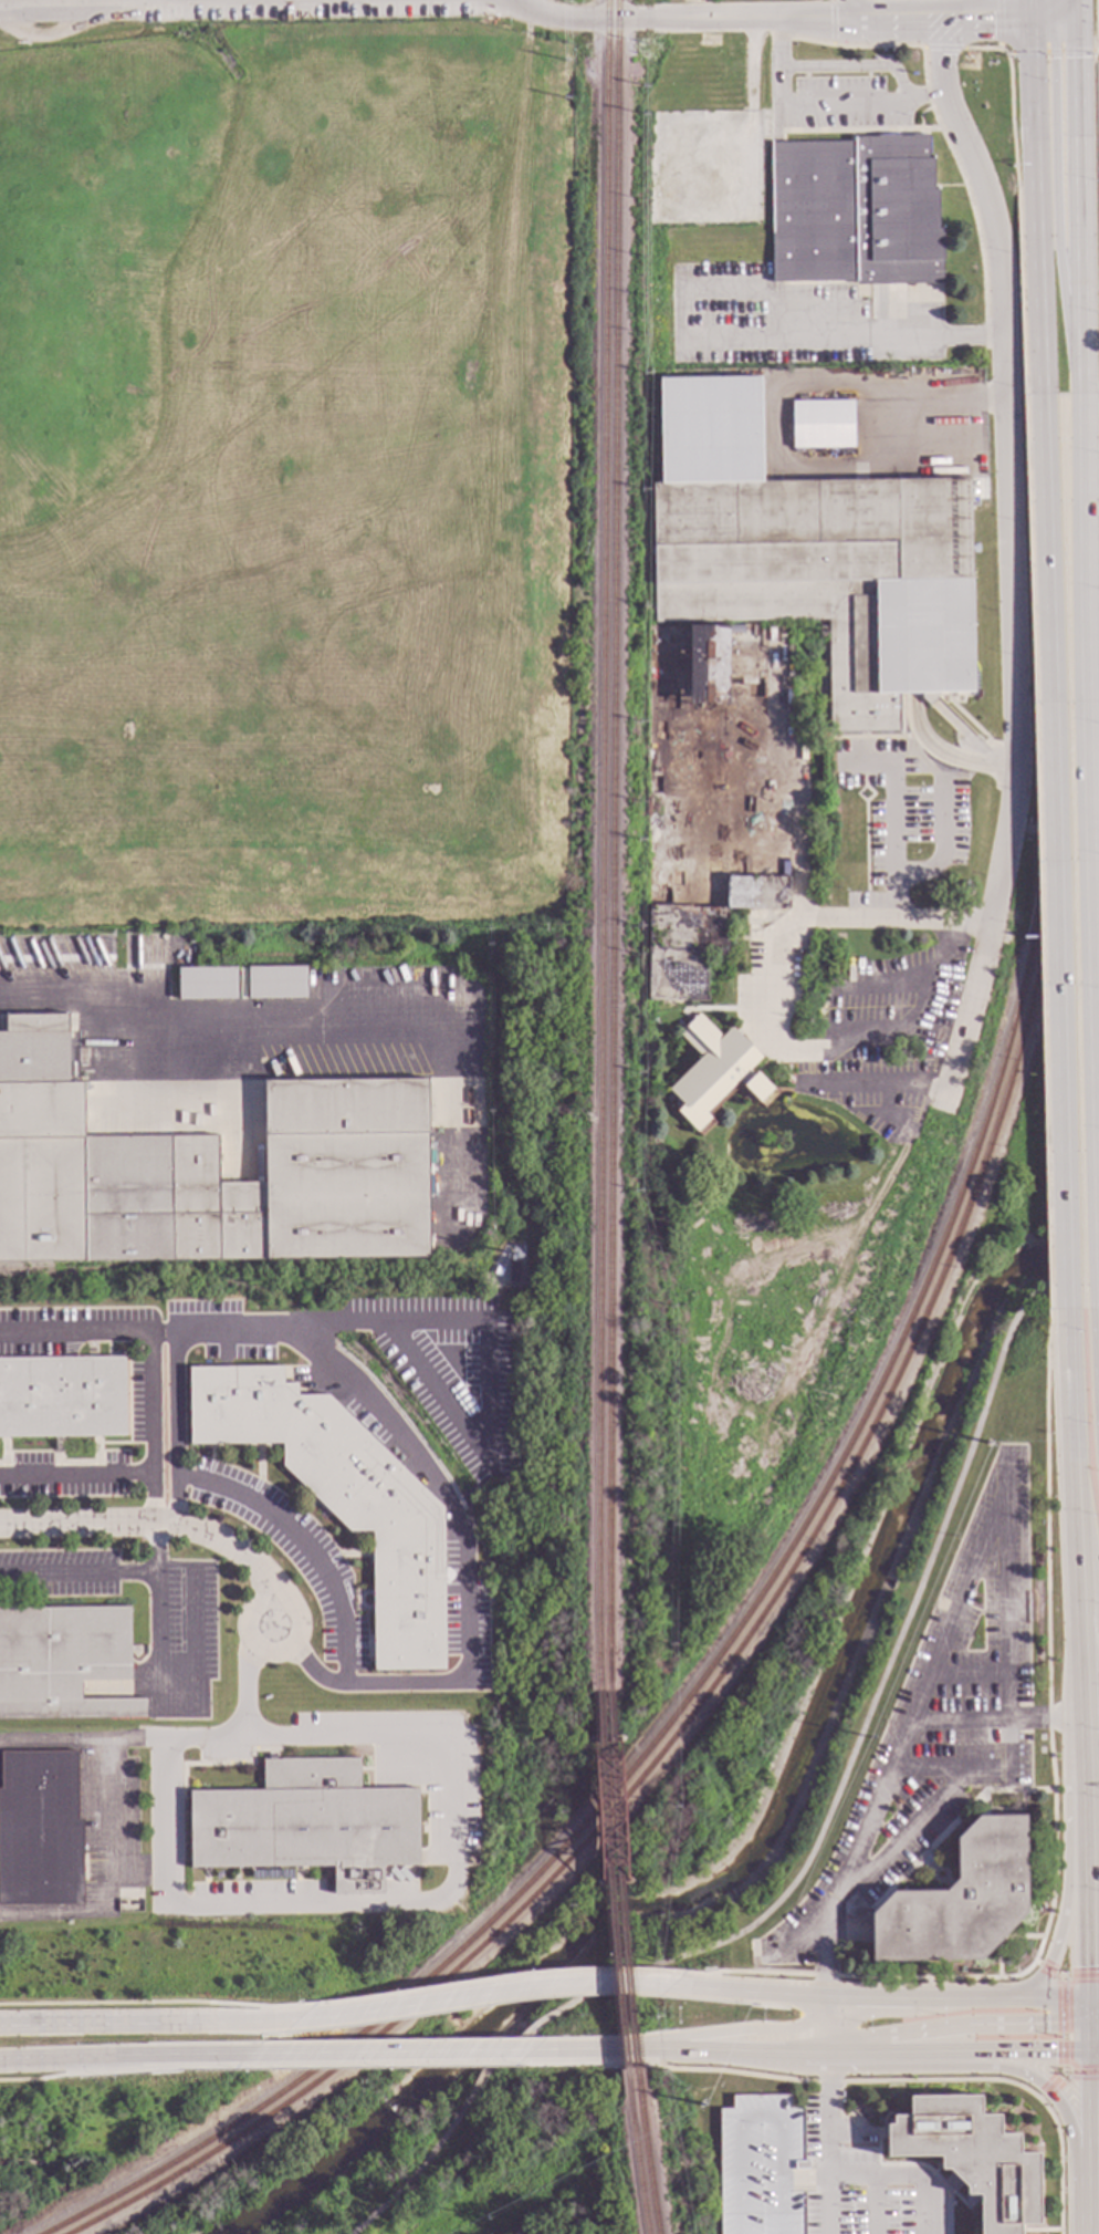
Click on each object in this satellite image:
road: (1077, 9)
road: (845, 10)
road: (1030, 10)
road: (1064, 11)
road: (751, 19)
road: (1055, 19)
traffic signals: (1078, 19)
road: (584, 20)
road: (939, 20)
traffic signals: (1032, 20)
road: (998, 24)
road: (1049, 52)
road: (940, 56)
road: (860, 69)
road: (933, 96)
road: (1009, 101)
road: (809, 106)
road: (1093, 196)
road: (1055, 197)
road: (1037, 206)
road: (1080, 206)
building: (855, 214)
road: (1021, 294)
road: (847, 341)
road: (899, 388)
building: (820, 426)
road: (1098, 454)
road: (1009, 595)
building: (899, 666)
road: (1091, 820)
road: (942, 825)
railway: (617, 845)
railway: (605, 846)
road: (1036, 852)
road: (1055, 852)
road: (799, 916)
building: (274, 984)
building: (205, 985)
road: (882, 987)
road: (907, 1020)
building: (713, 1072)
road: (873, 1094)
building: (206, 1173)
building: (512, 1274)
road: (488, 1359)
building: (61, 1399)
road: (149, 1428)
power tower: (985, 1443)
road: (412, 1459)
road: (75, 1478)
building: (338, 1497)
road: (248, 1503)
road: (178, 1504)
railway: (472, 1507)
road: (1074, 1514)
road: (163, 1523)
railway: (796, 1541)
road: (155, 1547)
road: (1087, 1550)
road: (77, 1573)
railway: (788, 1577)
park: (848, 1610)
road: (951, 1632)
road: (1046, 1635)
building: (63, 1662)
road: (1070, 1670)
road: (971, 1677)
road: (1008, 1700)
road: (1072, 1718)
road: (1037, 1719)
road: (962, 1722)
parking lot: (938, 1725)
road: (231, 1736)
power tower: (869, 1738)
road: (51, 1743)
road: (928, 1775)
building: (306, 1826)
road: (823, 1828)
building: (39, 1830)
road: (902, 1838)
road: (1081, 1858)
road: (1065, 1869)
road: (103, 1879)
railway: (626, 1880)
railway: (617, 1881)
building: (959, 1900)
road: (409, 1902)
park: (557, 1932)
road: (1047, 1967)
traffic signals: (1085, 1967)
road: (1080, 1976)
road: (866, 1977)
road: (491, 1980)
road: (756, 1993)
road: (480, 1995)
road: (1092, 1996)
road: (866, 1998)
road: (1047, 1998)
road: (957, 1999)
road: (146, 2002)
road: (1092, 2005)
road: (1086, 2010)
road: (1092, 2022)
traffic signals: (1046, 2024)
road: (1063, 2024)
road: (135, 2025)
road: (824, 2025)
road: (953, 2026)
road: (740, 2030)
road: (1086, 2037)
road: (1092, 2047)
road: (659, 2049)
road: (1092, 2050)
road: (430, 2051)
road: (763, 2051)
road: (1032, 2051)
traffic signals: (1054, 2051)
road: (901, 2053)
road: (123, 2055)
road: (824, 2060)
road: (763, 2062)
road: (428, 2066)
road: (987, 2069)
road: (121, 2070)
road: (1080, 2072)
road: (826, 2081)
road: (1049, 2086)
power tower: (699, 2107)
road: (1086, 2114)
park: (84, 2137)
railway: (640, 2151)
railway: (650, 2151)
road: (828, 2151)
building: (972, 2157)
park: (421, 2160)
road: (1058, 2163)
building: (761, 2167)
parking lot: (761, 2167)
road: (900, 2176)
road: (815, 2178)
parking lot: (844, 2183)
road: (875, 2205)
road: (1087, 2206)
power tower: (485, 2217)

